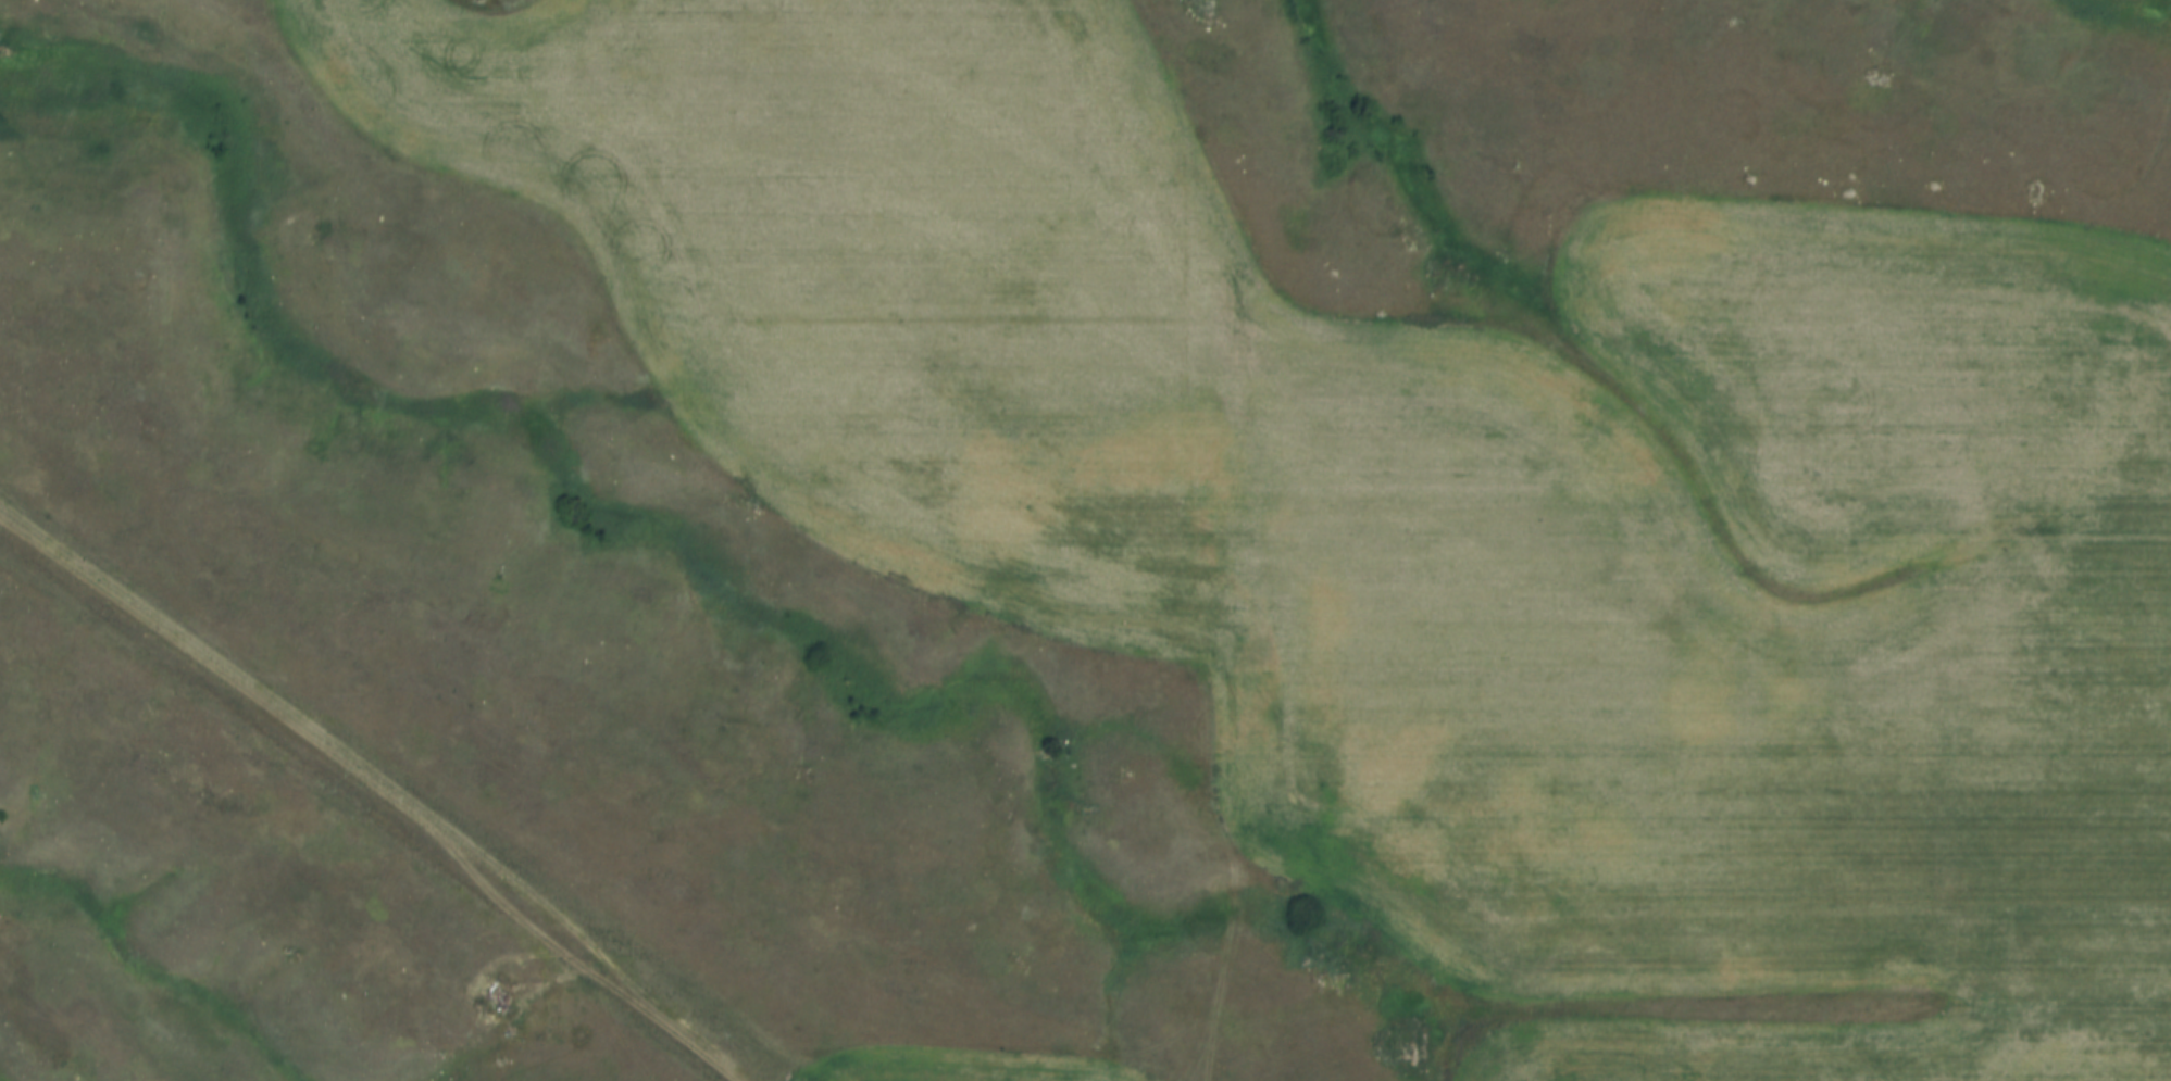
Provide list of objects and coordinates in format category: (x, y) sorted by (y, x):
road: (388, 789)

